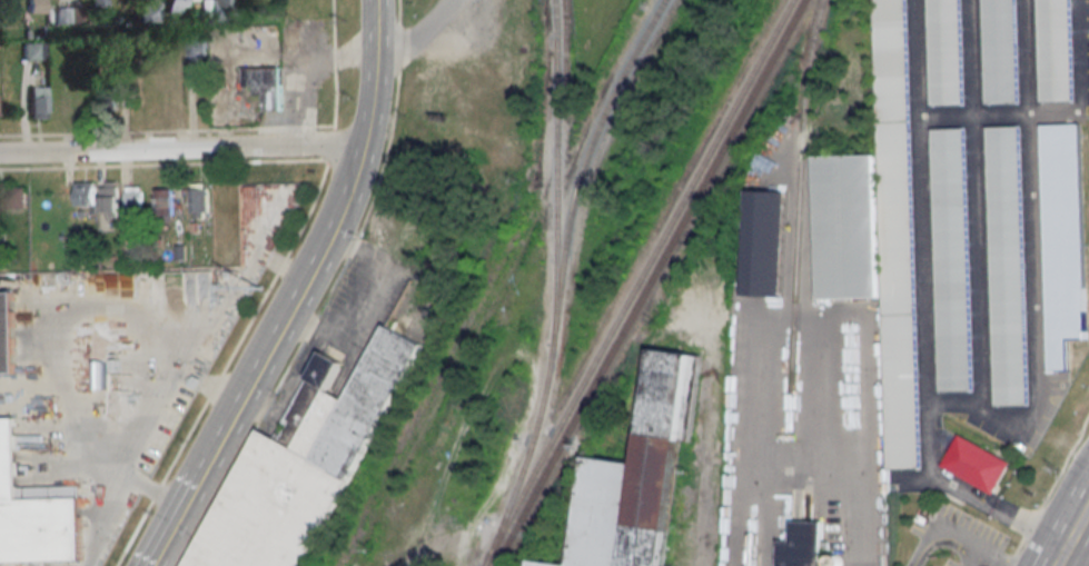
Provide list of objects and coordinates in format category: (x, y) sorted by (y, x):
building: (36, 6)
building: (175, 7)
building: (219, 8)
building: (149, 12)
building: (68, 14)
road: (416, 33)
building: (197, 48)
building: (1053, 50)
building: (32, 51)
building: (999, 51)
building: (944, 52)
road: (918, 58)
building: (264, 85)
building: (111, 98)
building: (38, 102)
road: (1058, 112)
road: (181, 157)
building: (86, 193)
building: (12, 196)
building: (133, 201)
building: (165, 201)
building: (198, 201)
building: (109, 206)
building: (879, 227)
building: (764, 242)
building: (4, 251)
building: (951, 259)
building: (1007, 265)
railway: (505, 267)
railway: (645, 282)
railway: (550, 285)
power tower: (260, 289)
road: (299, 295)
road: (1034, 324)
building: (7, 332)
road: (928, 371)
road: (172, 383)
road: (208, 388)
road: (710, 436)
building: (974, 464)
building: (303, 466)
road: (850, 470)
building: (640, 475)
road: (152, 493)
building: (34, 510)
road: (1073, 534)
road: (1080, 539)
building: (801, 545)
road: (987, 557)
road: (1057, 562)

